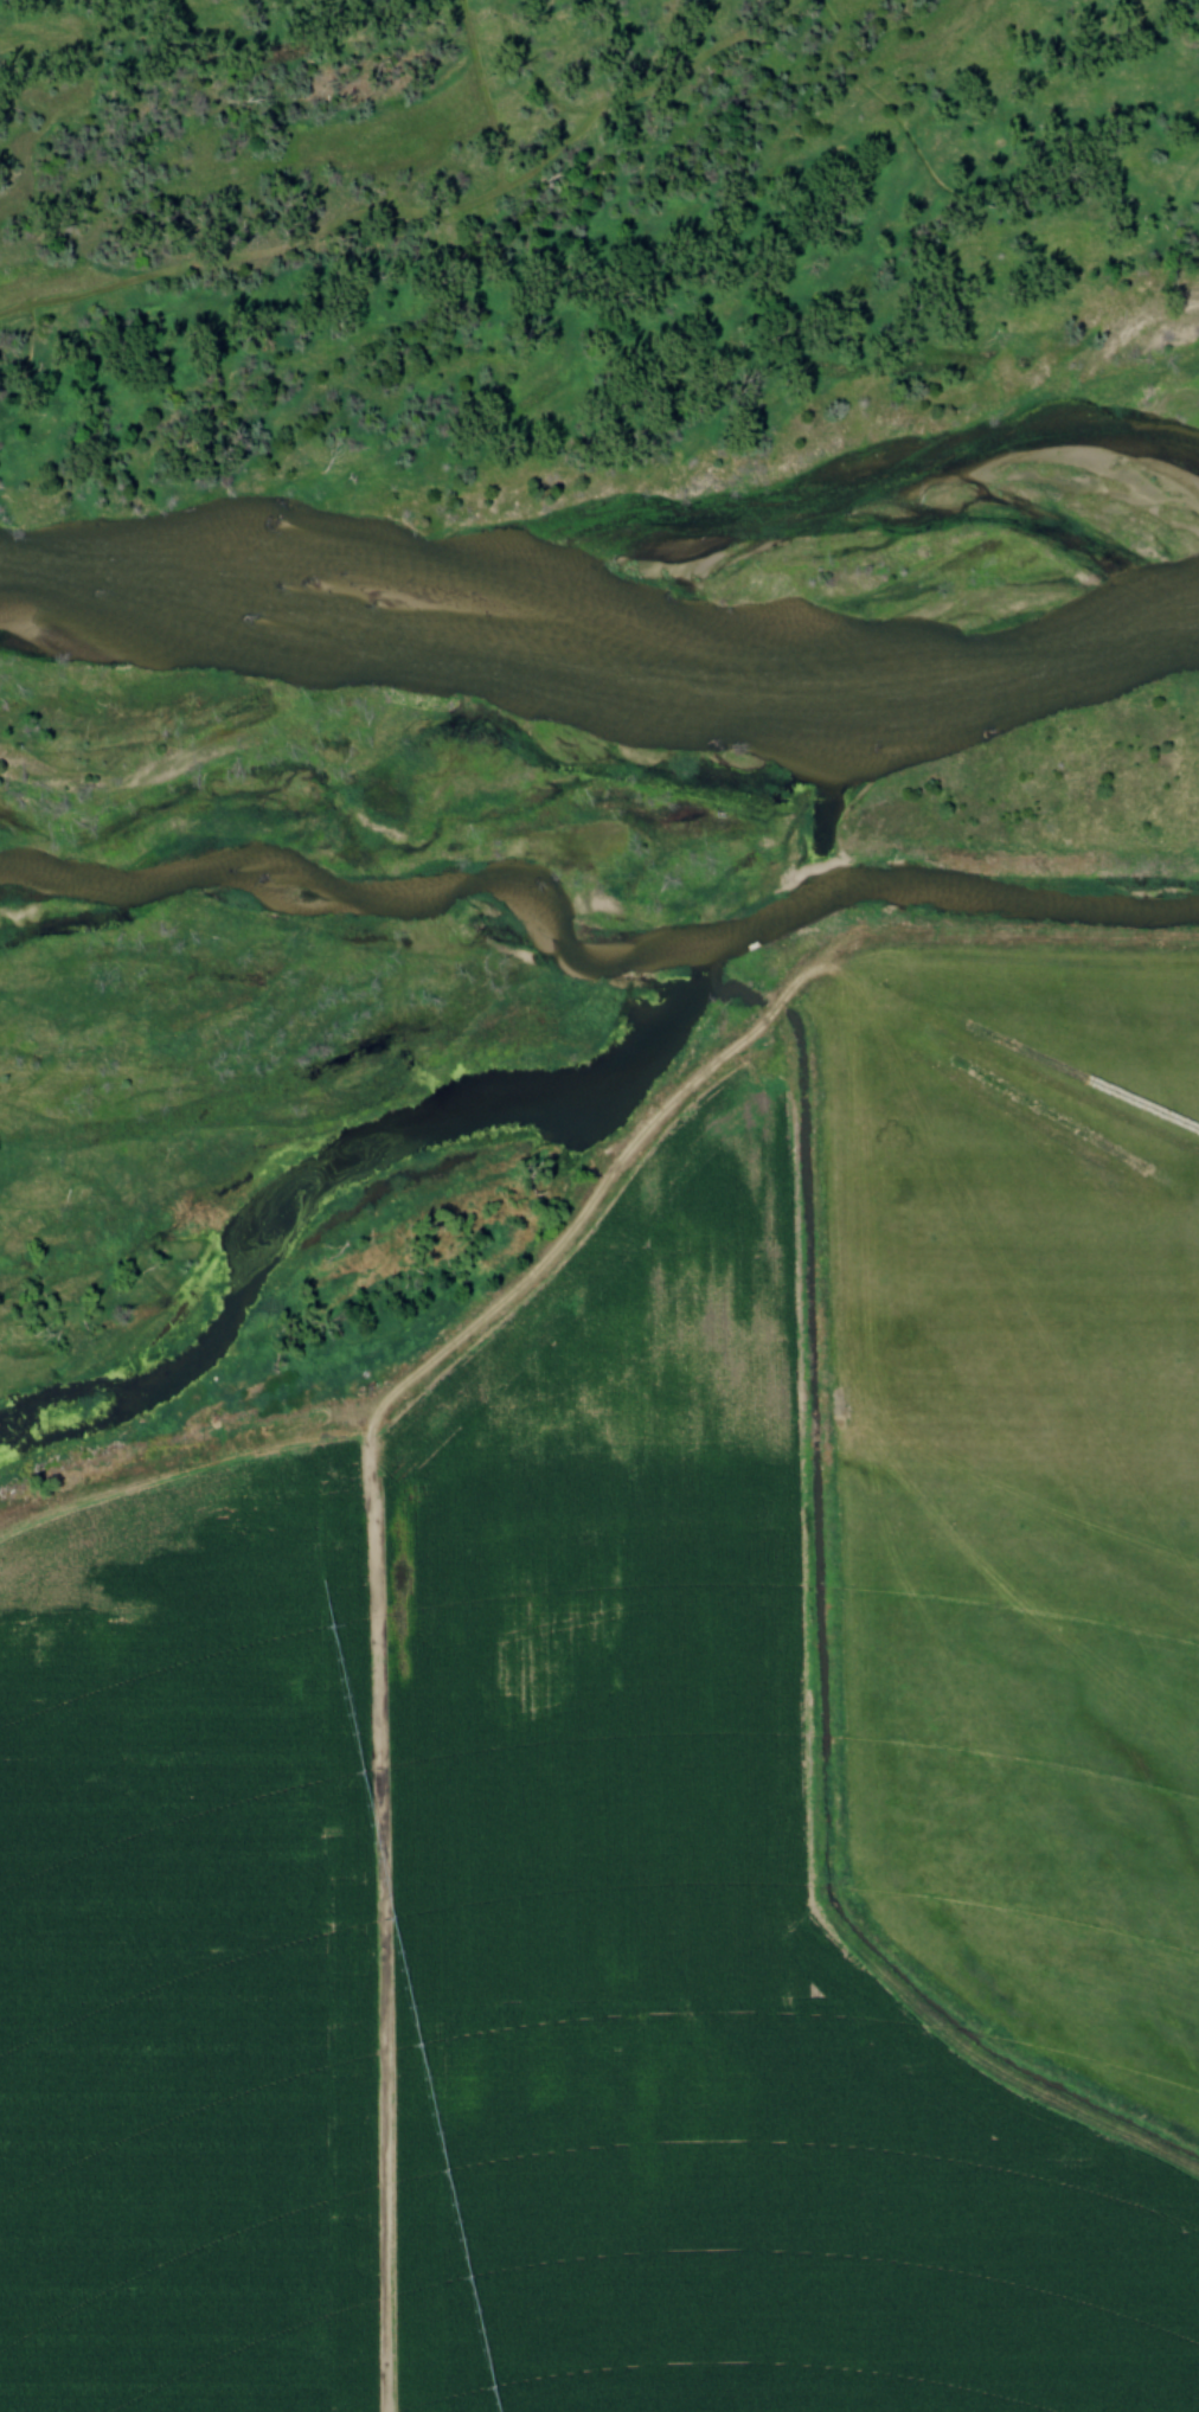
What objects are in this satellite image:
river: (598, 640)

